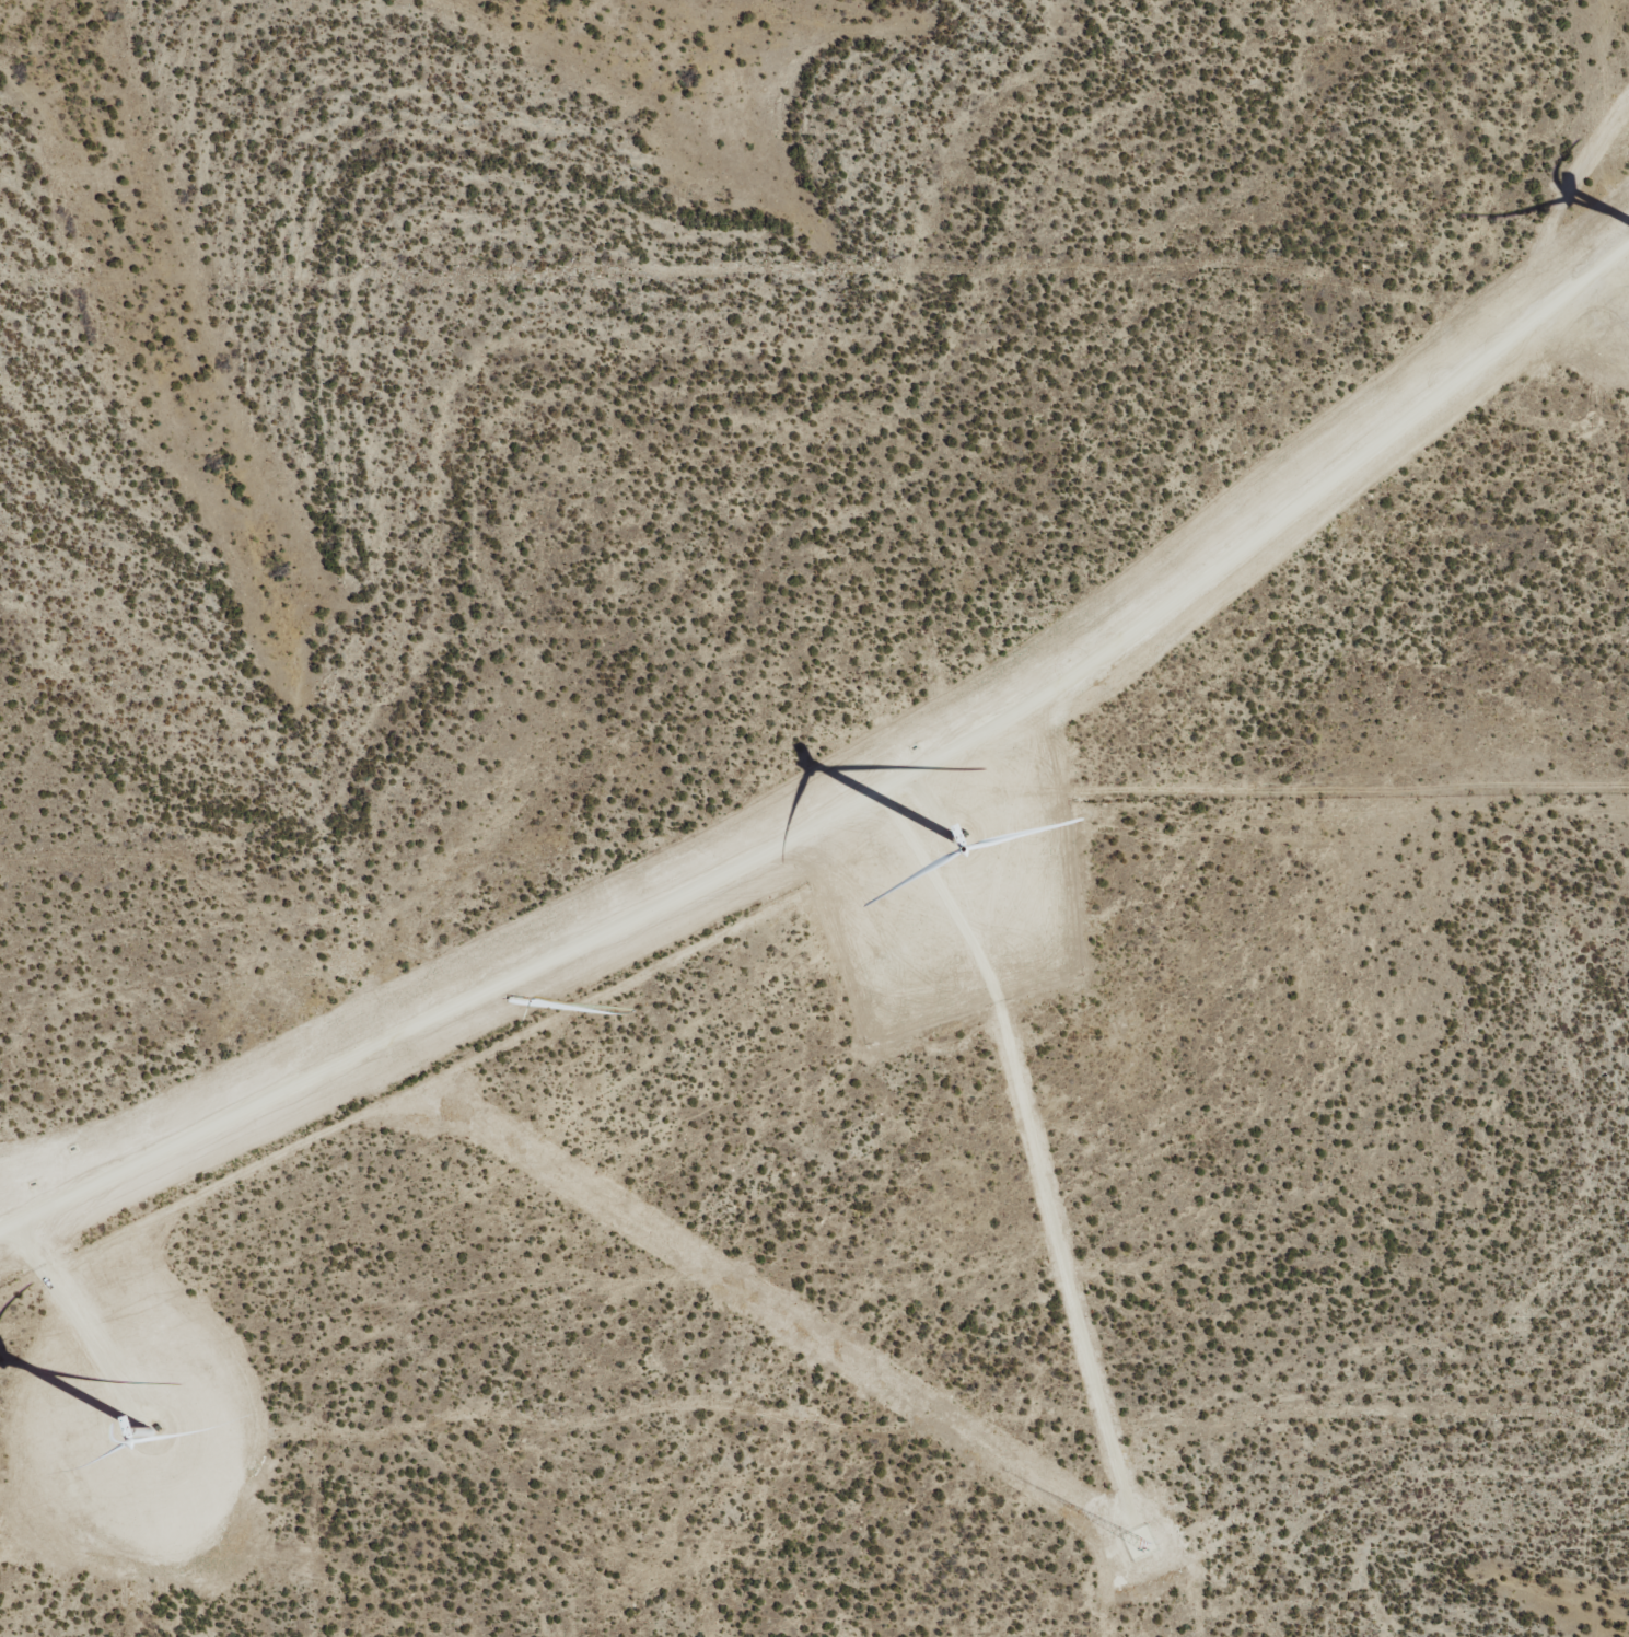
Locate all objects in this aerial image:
wind turbine: (962, 839)
wind turbine: (148, 1436)

